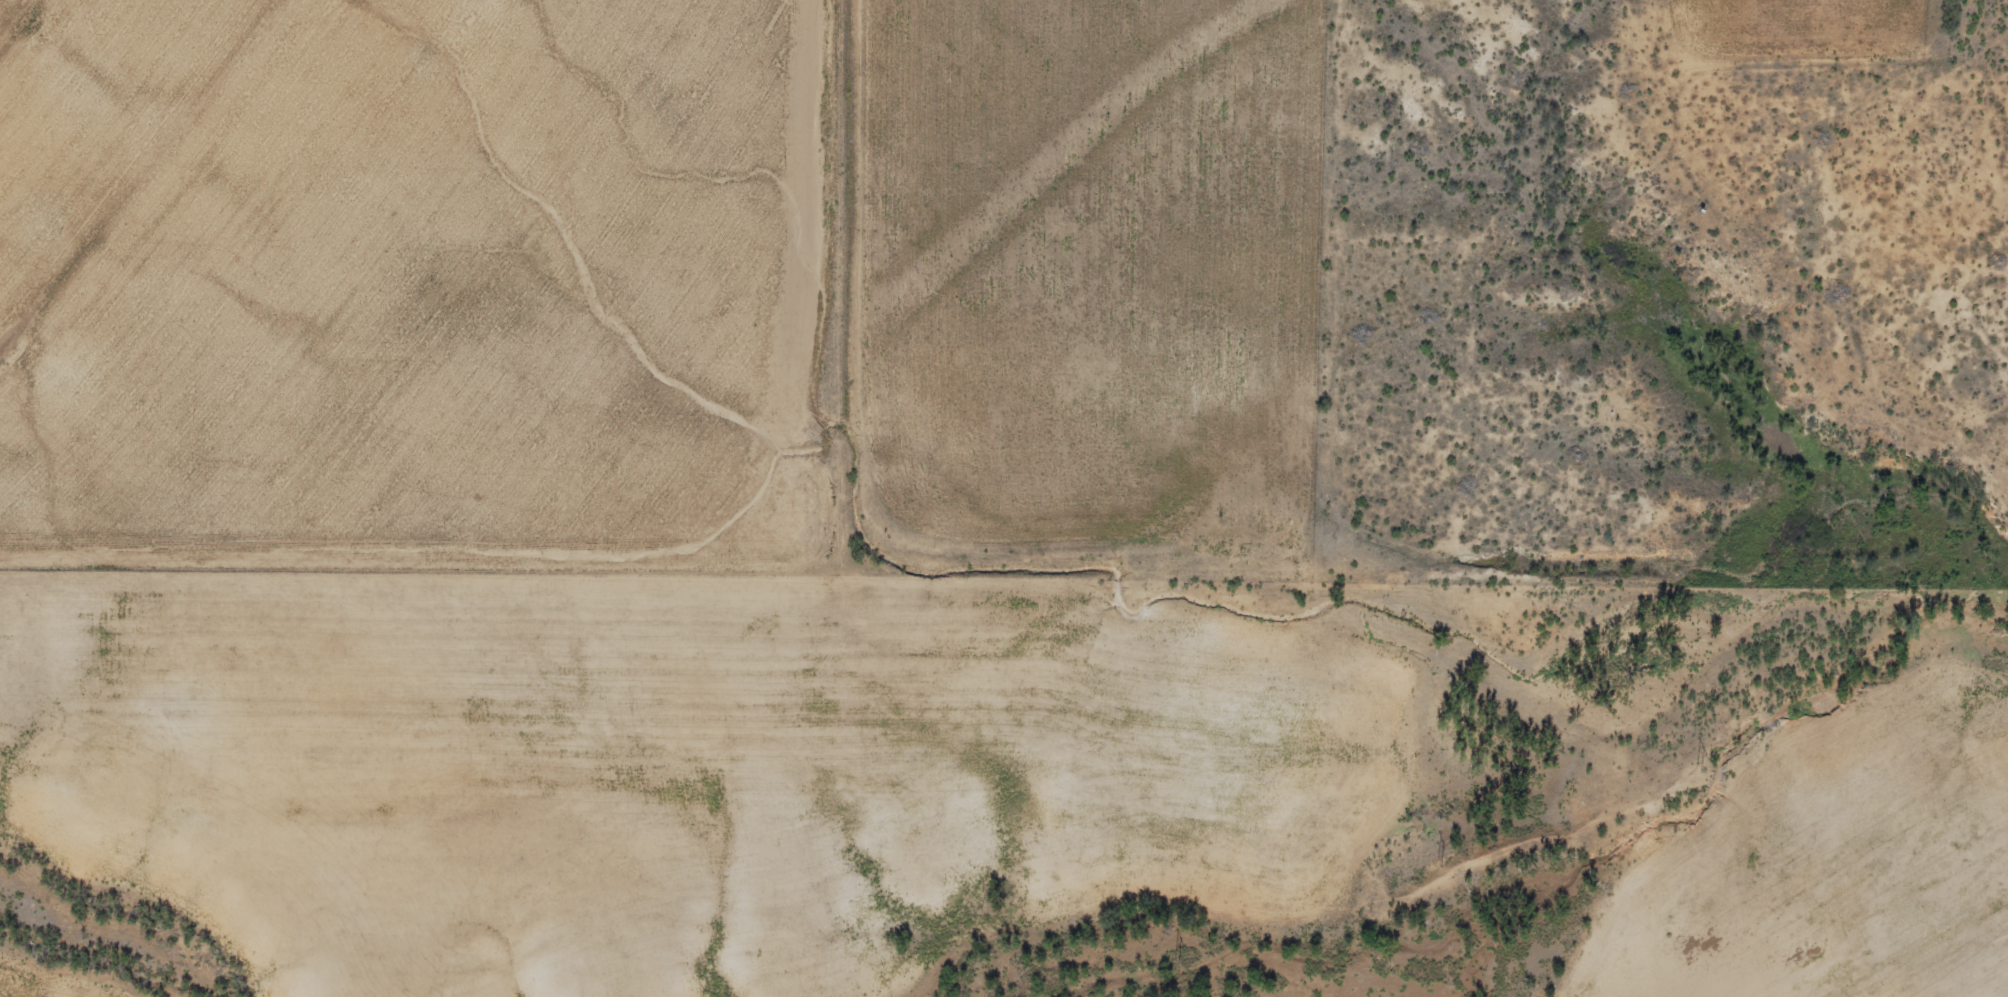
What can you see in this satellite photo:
power tower: (1695, 767)
power tower: (1432, 862)
power tower: (1170, 959)

